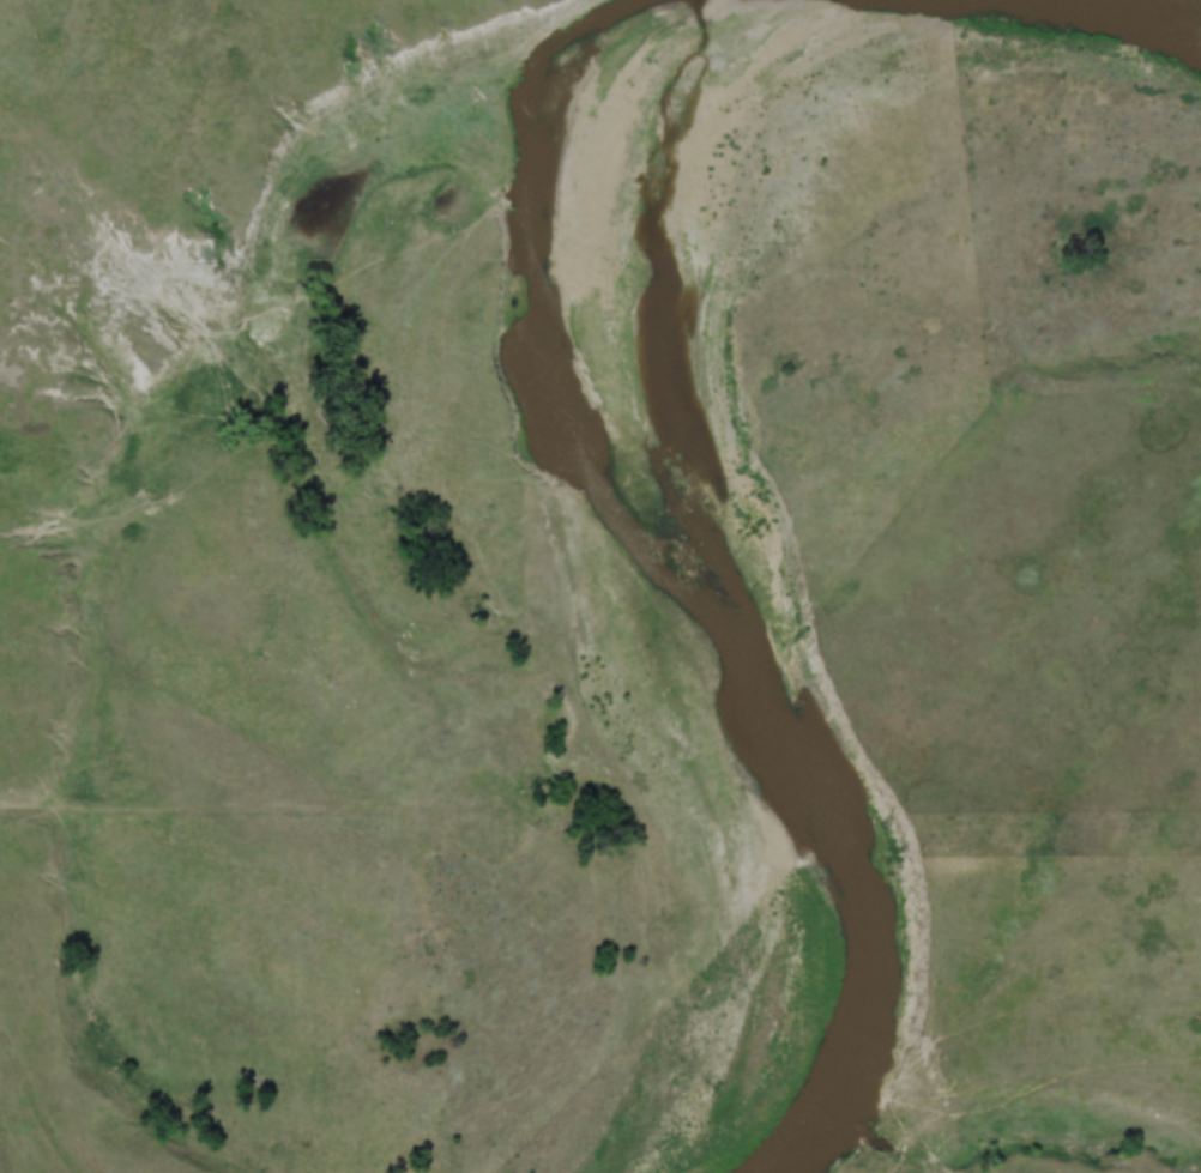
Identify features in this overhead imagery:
river: (1155, 17)
road: (1070, 373)
river: (676, 586)
road: (40, 1096)

